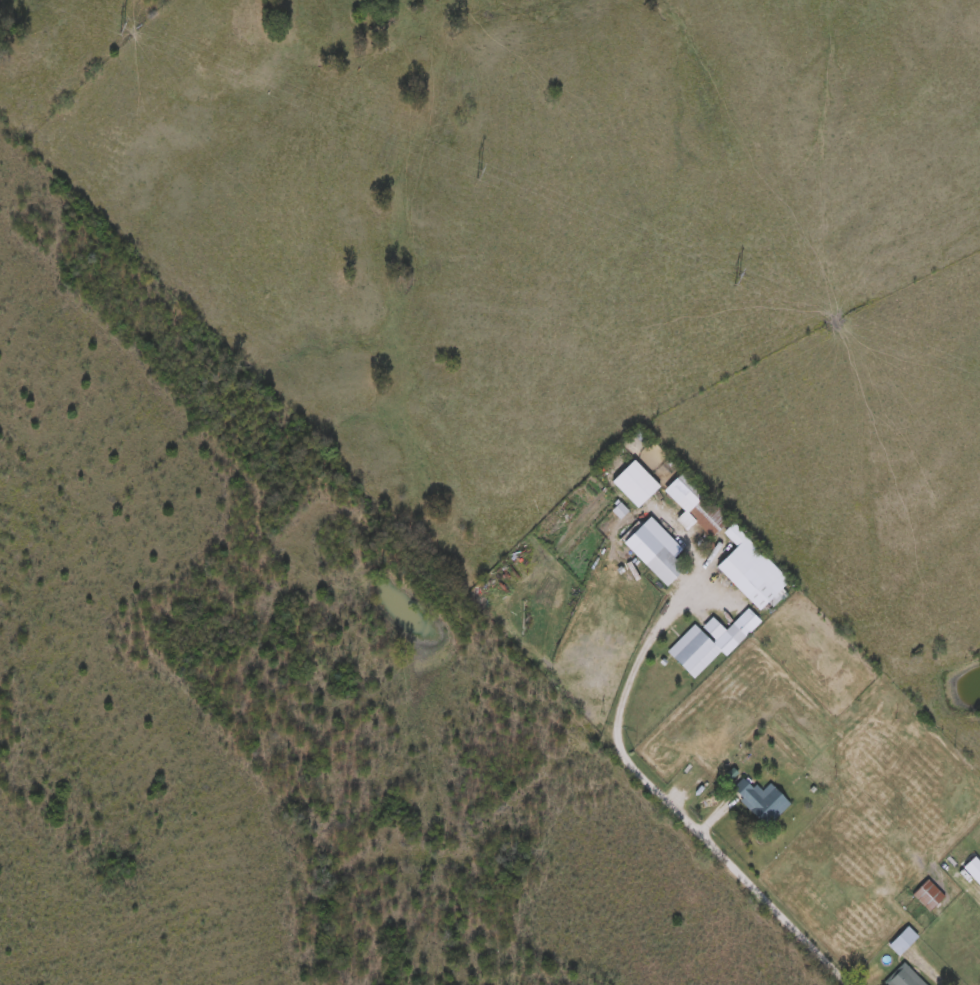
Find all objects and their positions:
power tower: (122, 28)
power tower: (480, 177)
power tower: (736, 284)
building: (700, 503)
building: (653, 547)
building: (749, 567)
building: (704, 641)
building: (760, 796)
road: (662, 803)
road: (712, 818)
building: (880, 866)
building: (972, 866)
building: (883, 871)
building: (927, 891)
building: (901, 937)
road: (929, 973)
building: (904, 976)

